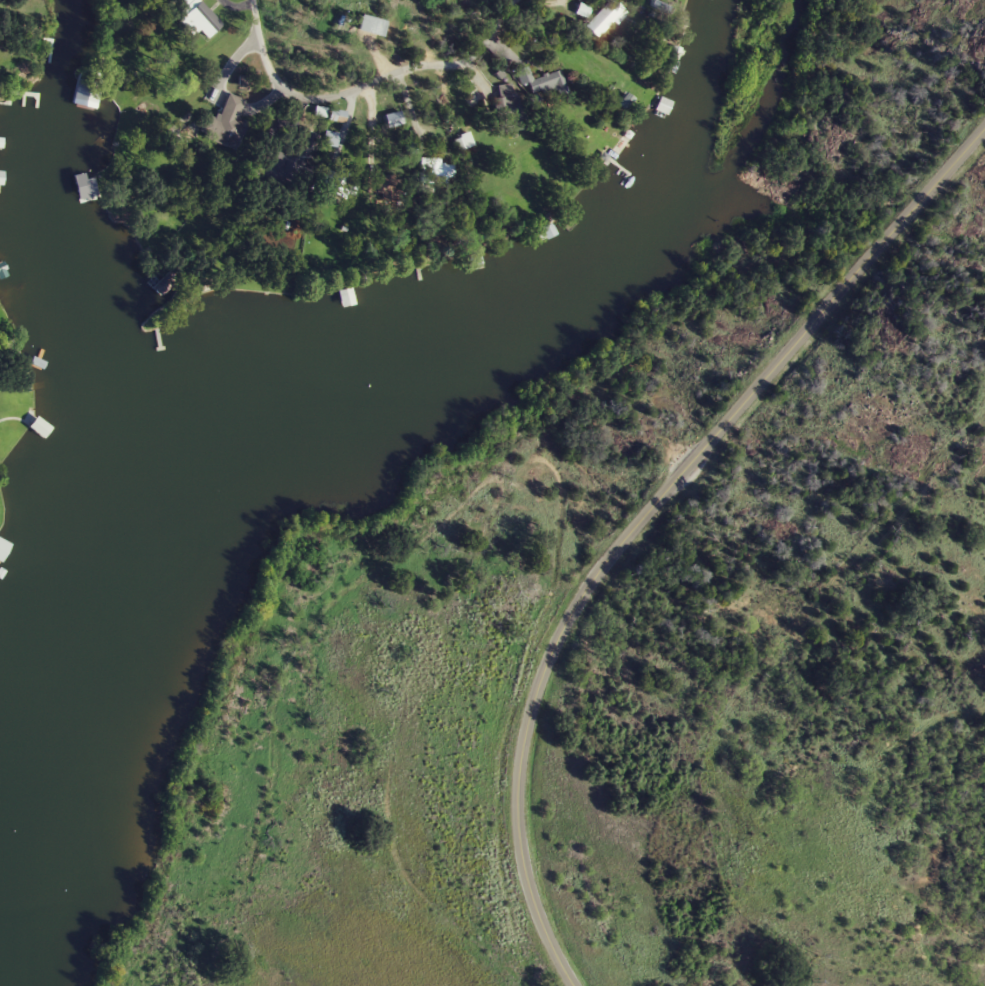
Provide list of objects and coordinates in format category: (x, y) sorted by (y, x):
building: (187, 2)
building: (660, 7)
building: (606, 18)
building: (205, 19)
building: (375, 25)
road: (360, 84)
building: (542, 87)
building: (87, 91)
building: (510, 93)
building: (665, 106)
building: (339, 115)
building: (226, 124)
building: (333, 139)
building: (464, 141)
building: (297, 157)
building: (1, 178)
building: (386, 186)
building: (347, 298)
building: (39, 428)
road: (638, 510)
building: (3, 548)

